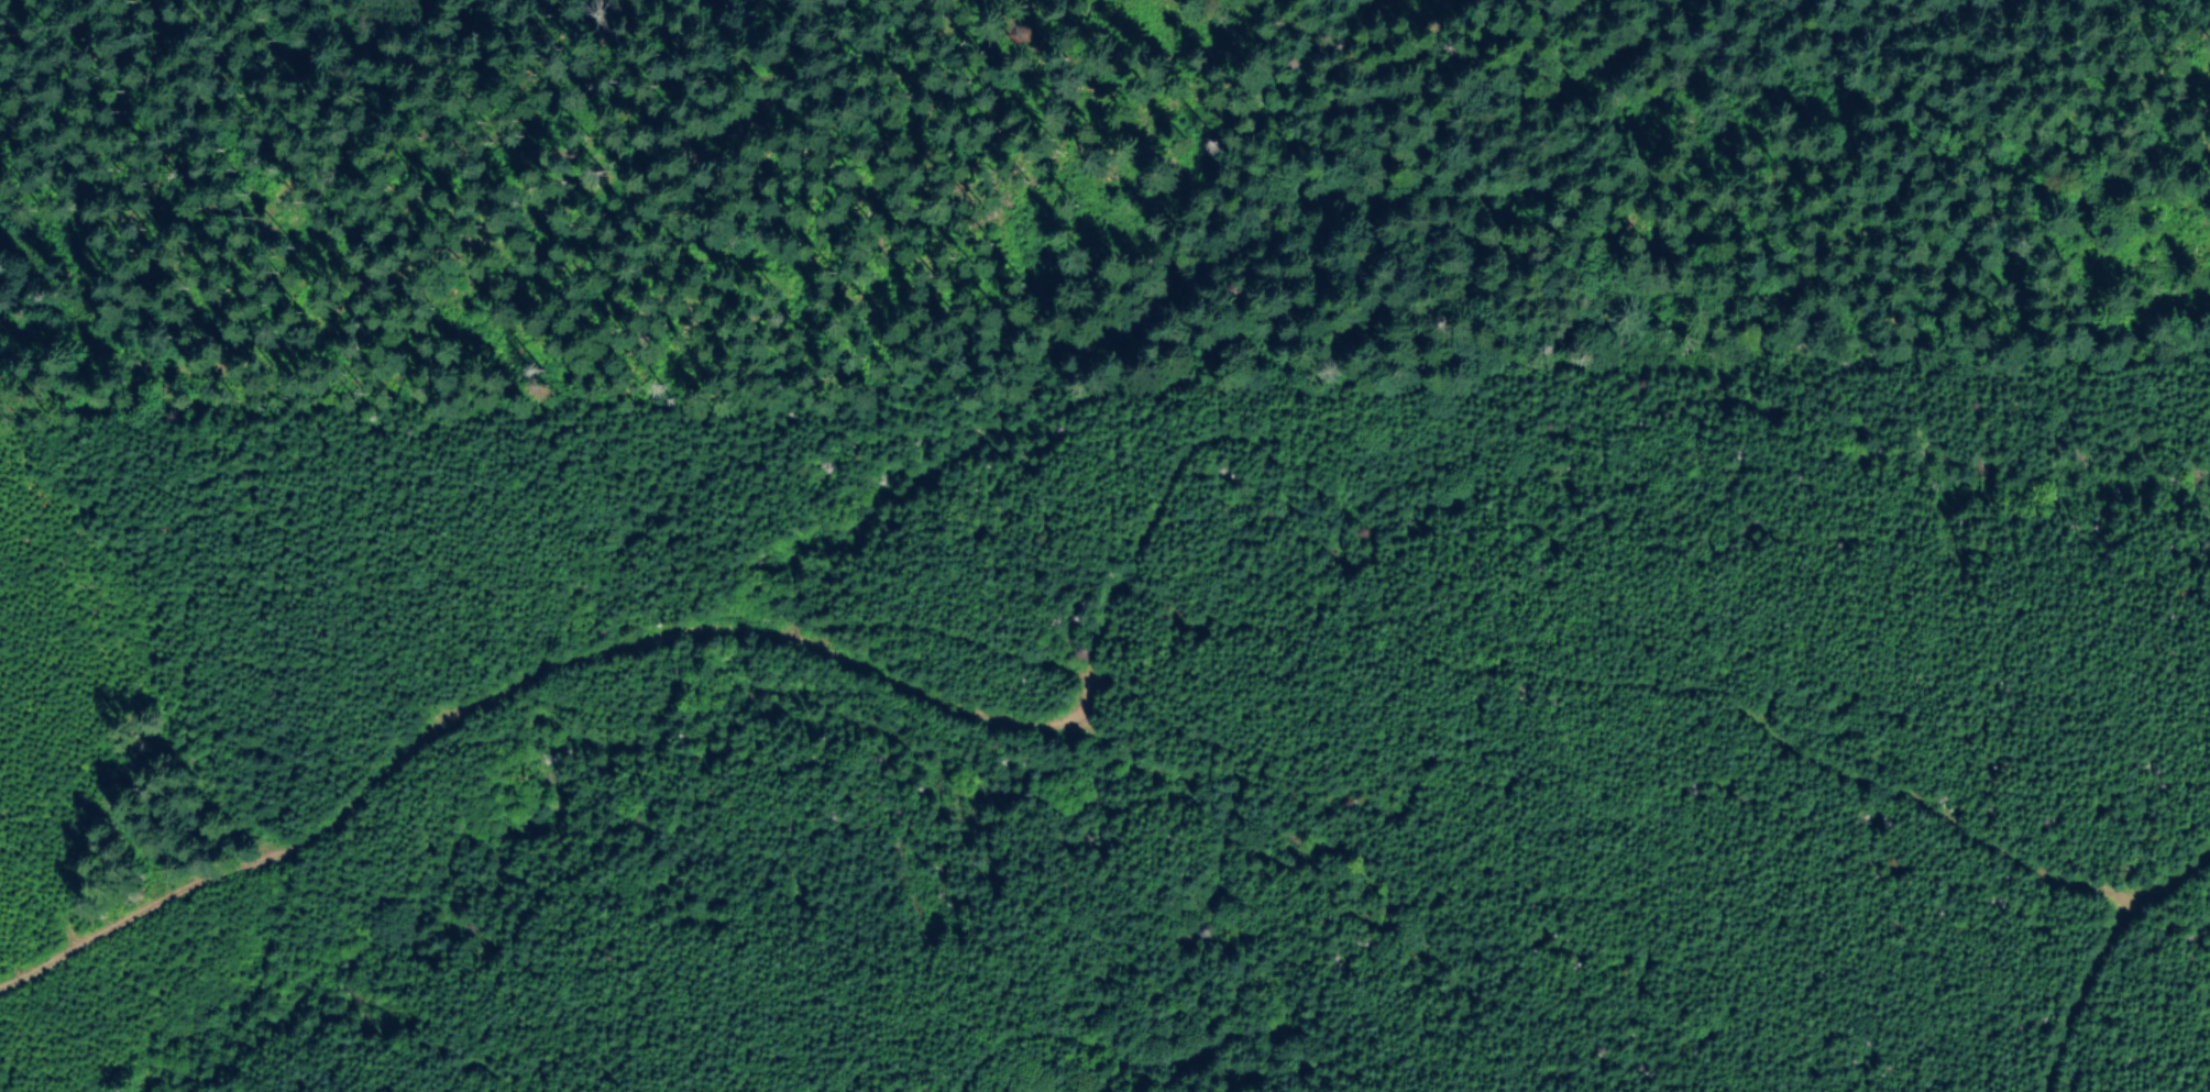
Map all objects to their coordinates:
road: (1090, 697)

